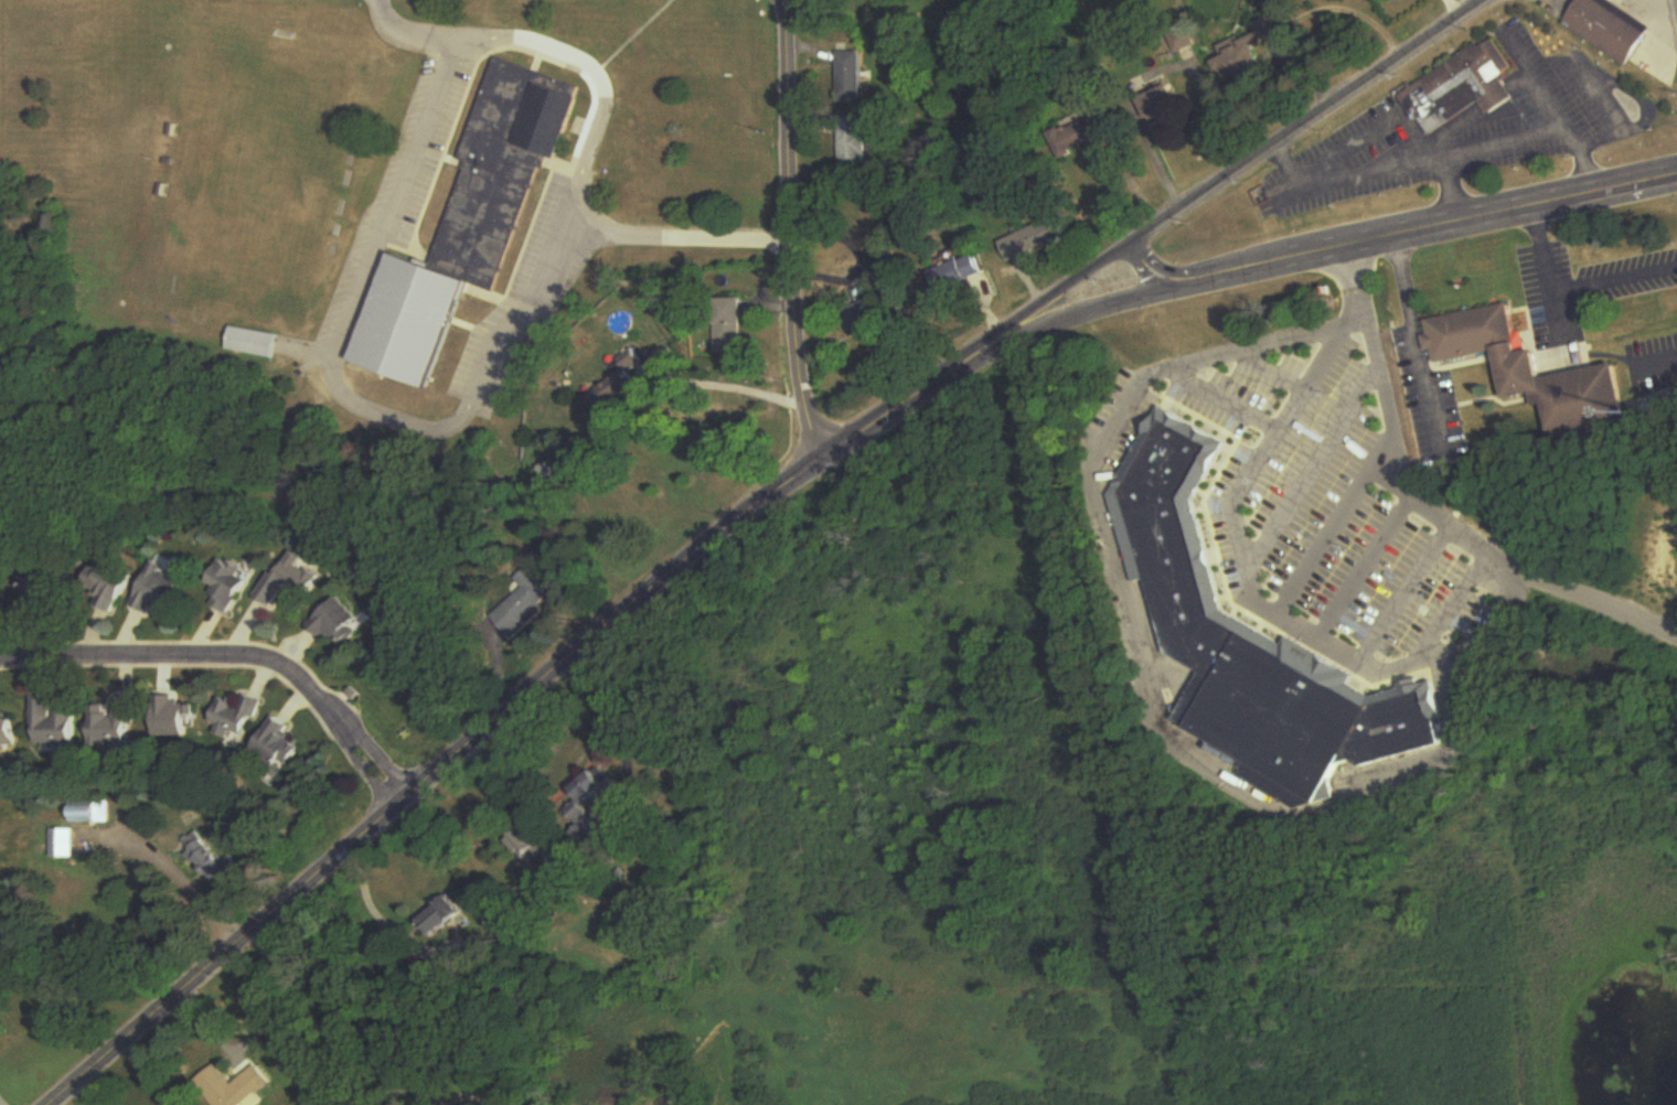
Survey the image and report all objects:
road: (1658, 7)
building: (1606, 26)
building: (1239, 52)
building: (851, 76)
building: (1457, 88)
road: (1551, 111)
road: (1299, 122)
road: (595, 128)
building: (1076, 137)
building: (854, 144)
road: (1406, 162)
road: (1448, 186)
building: (472, 223)
road: (789, 235)
building: (1029, 240)
road: (1345, 245)
road: (1150, 271)
building: (959, 273)
road: (1066, 281)
building: (861, 291)
road: (1567, 293)
building: (866, 314)
building: (729, 322)
road: (1419, 340)
building: (255, 343)
road: (1267, 358)
building: (1534, 371)
road: (740, 386)
road: (1220, 389)
road: (350, 391)
building: (618, 394)
road: (914, 399)
road: (1107, 416)
road: (1309, 457)
road: (1428, 503)
road: (1335, 515)
road: (1360, 557)
road: (1401, 582)
building: (291, 584)
building: (226, 586)
building: (43, 588)
building: (107, 588)
road: (1265, 594)
building: (156, 597)
road: (1451, 598)
building: (522, 603)
building: (337, 624)
building: (1254, 648)
road: (232, 656)
building: (172, 718)
building: (235, 719)
building: (54, 725)
building: (116, 726)
building: (8, 737)
building: (278, 745)
road: (427, 781)
road: (510, 788)
building: (594, 809)
building: (95, 814)
building: (63, 839)
building: (533, 845)
building: (210, 860)
road: (190, 879)
building: (447, 916)
road: (384, 921)
road: (291, 1033)
building: (241, 1086)
road: (440, 1092)
building: (173, 1104)

